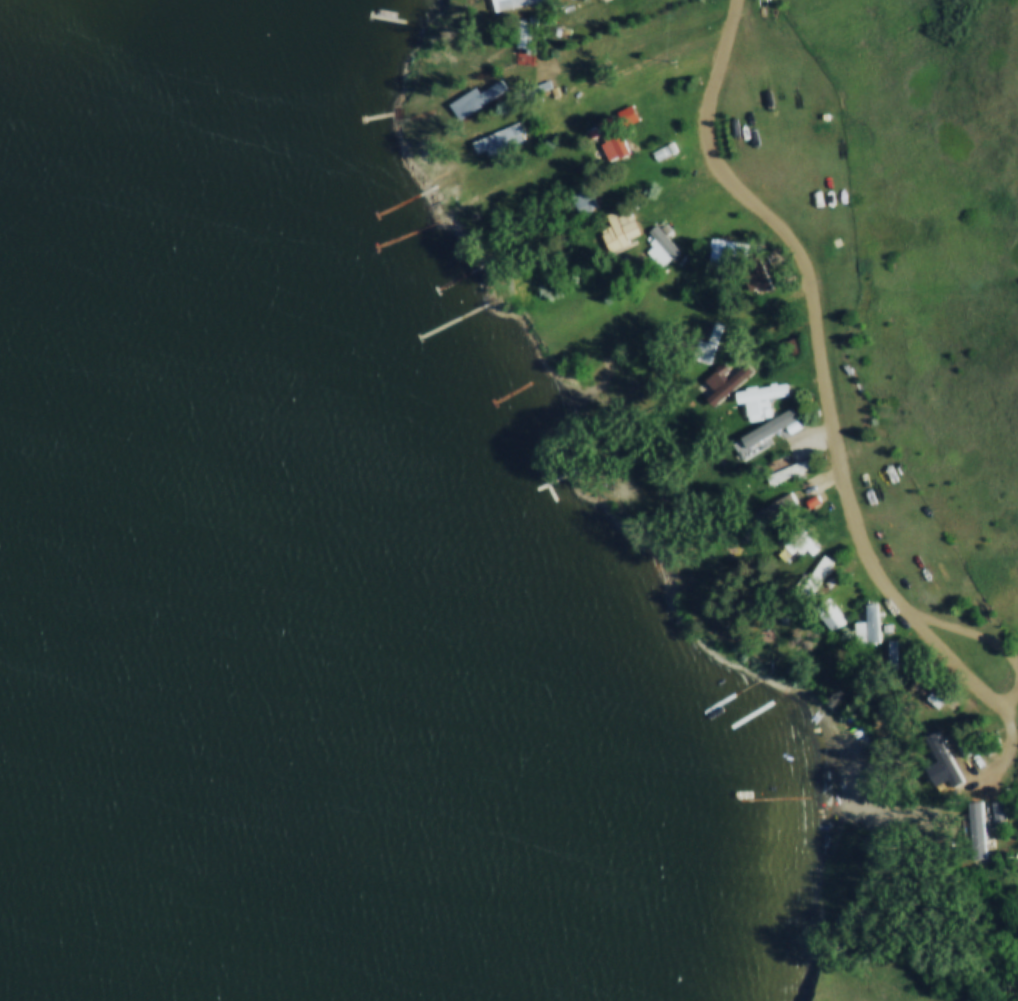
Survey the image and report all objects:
building: (517, 3)
building: (478, 98)
building: (613, 137)
building: (503, 139)
building: (620, 229)
building: (660, 245)
building: (723, 250)
road: (809, 292)
building: (709, 341)
building: (729, 384)
building: (758, 399)
building: (799, 465)
building: (786, 549)
building: (815, 575)
building: (829, 614)
building: (869, 626)
building: (933, 683)
road: (1005, 686)
road: (1010, 742)
building: (975, 829)

